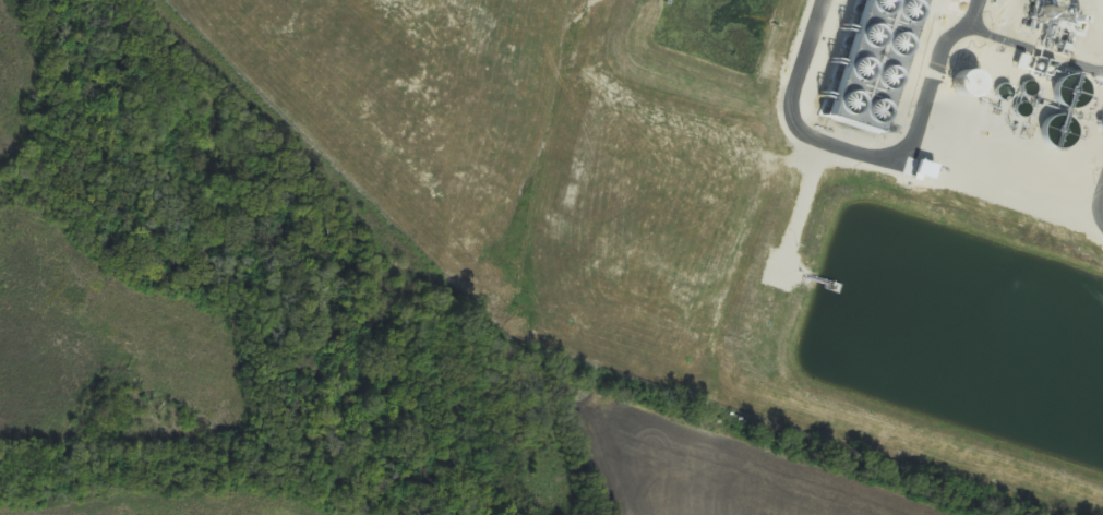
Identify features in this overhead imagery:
building: (871, 61)
power plant: (753, 197)

